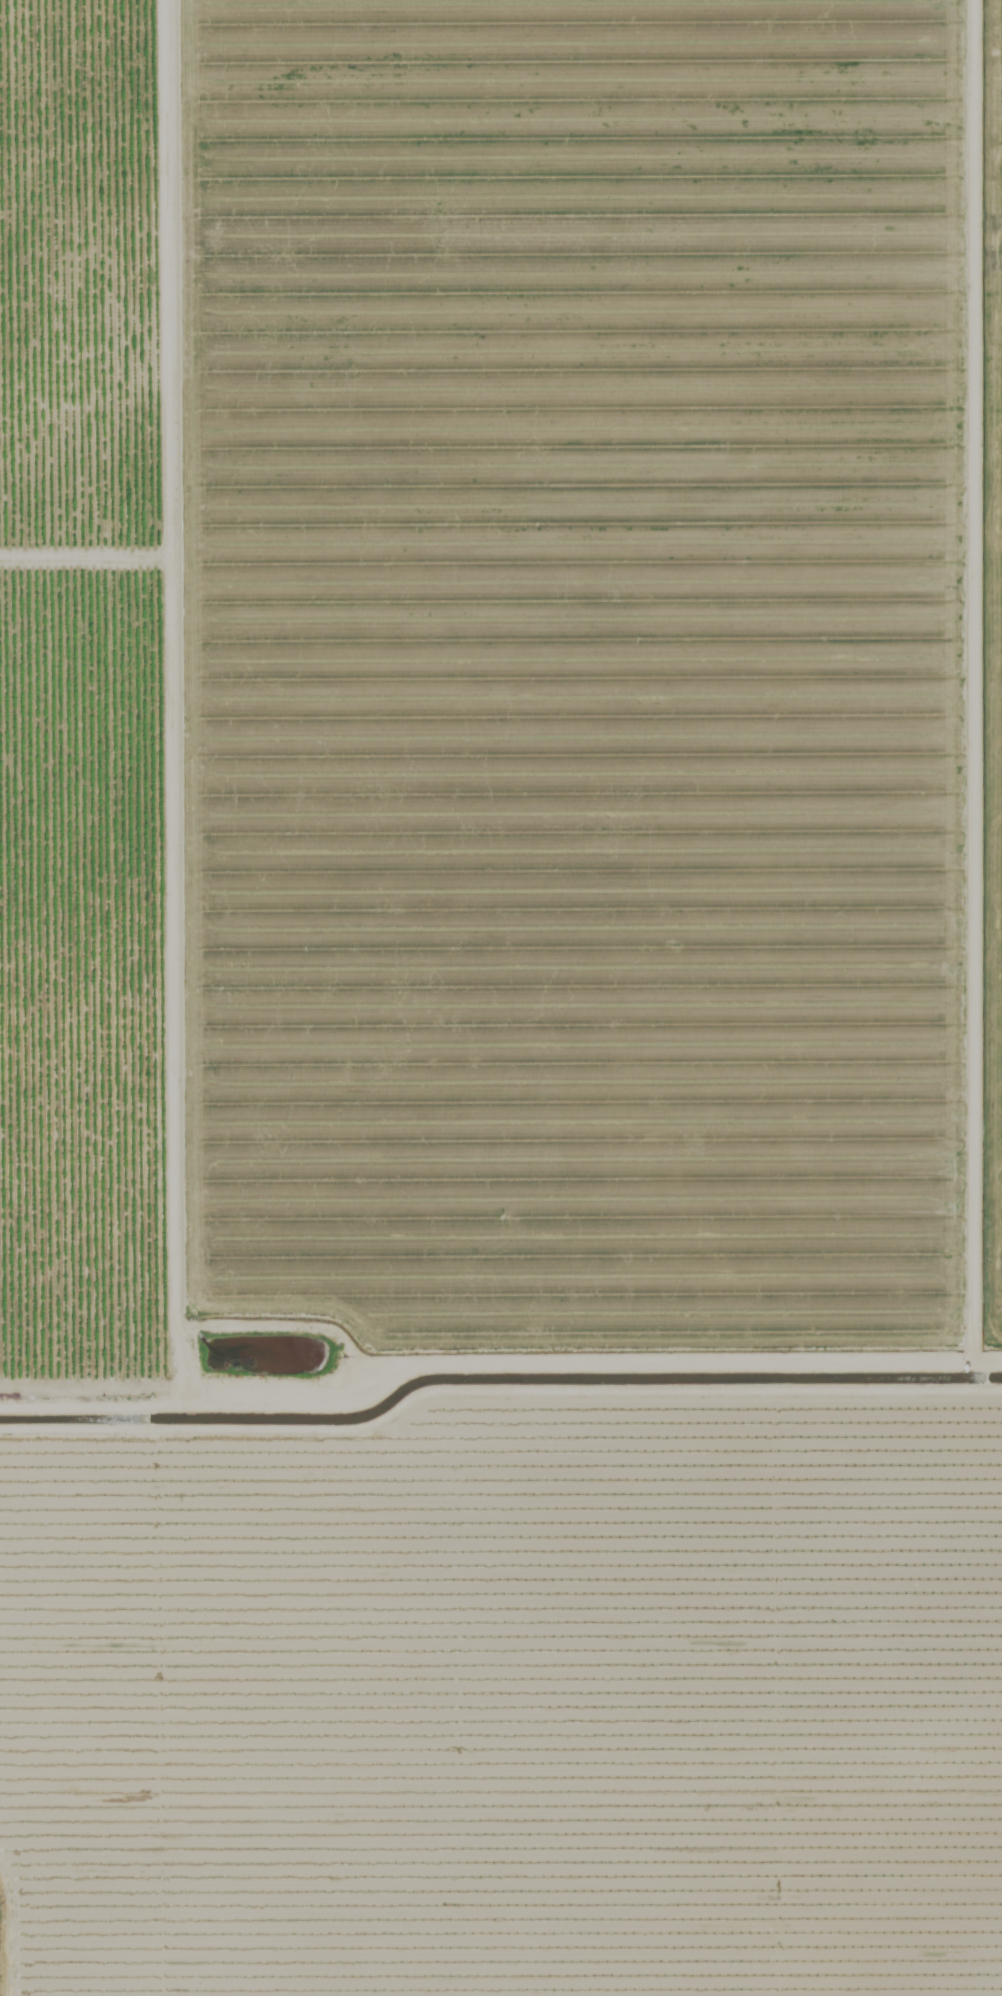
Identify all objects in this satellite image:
road: (83, 570)

